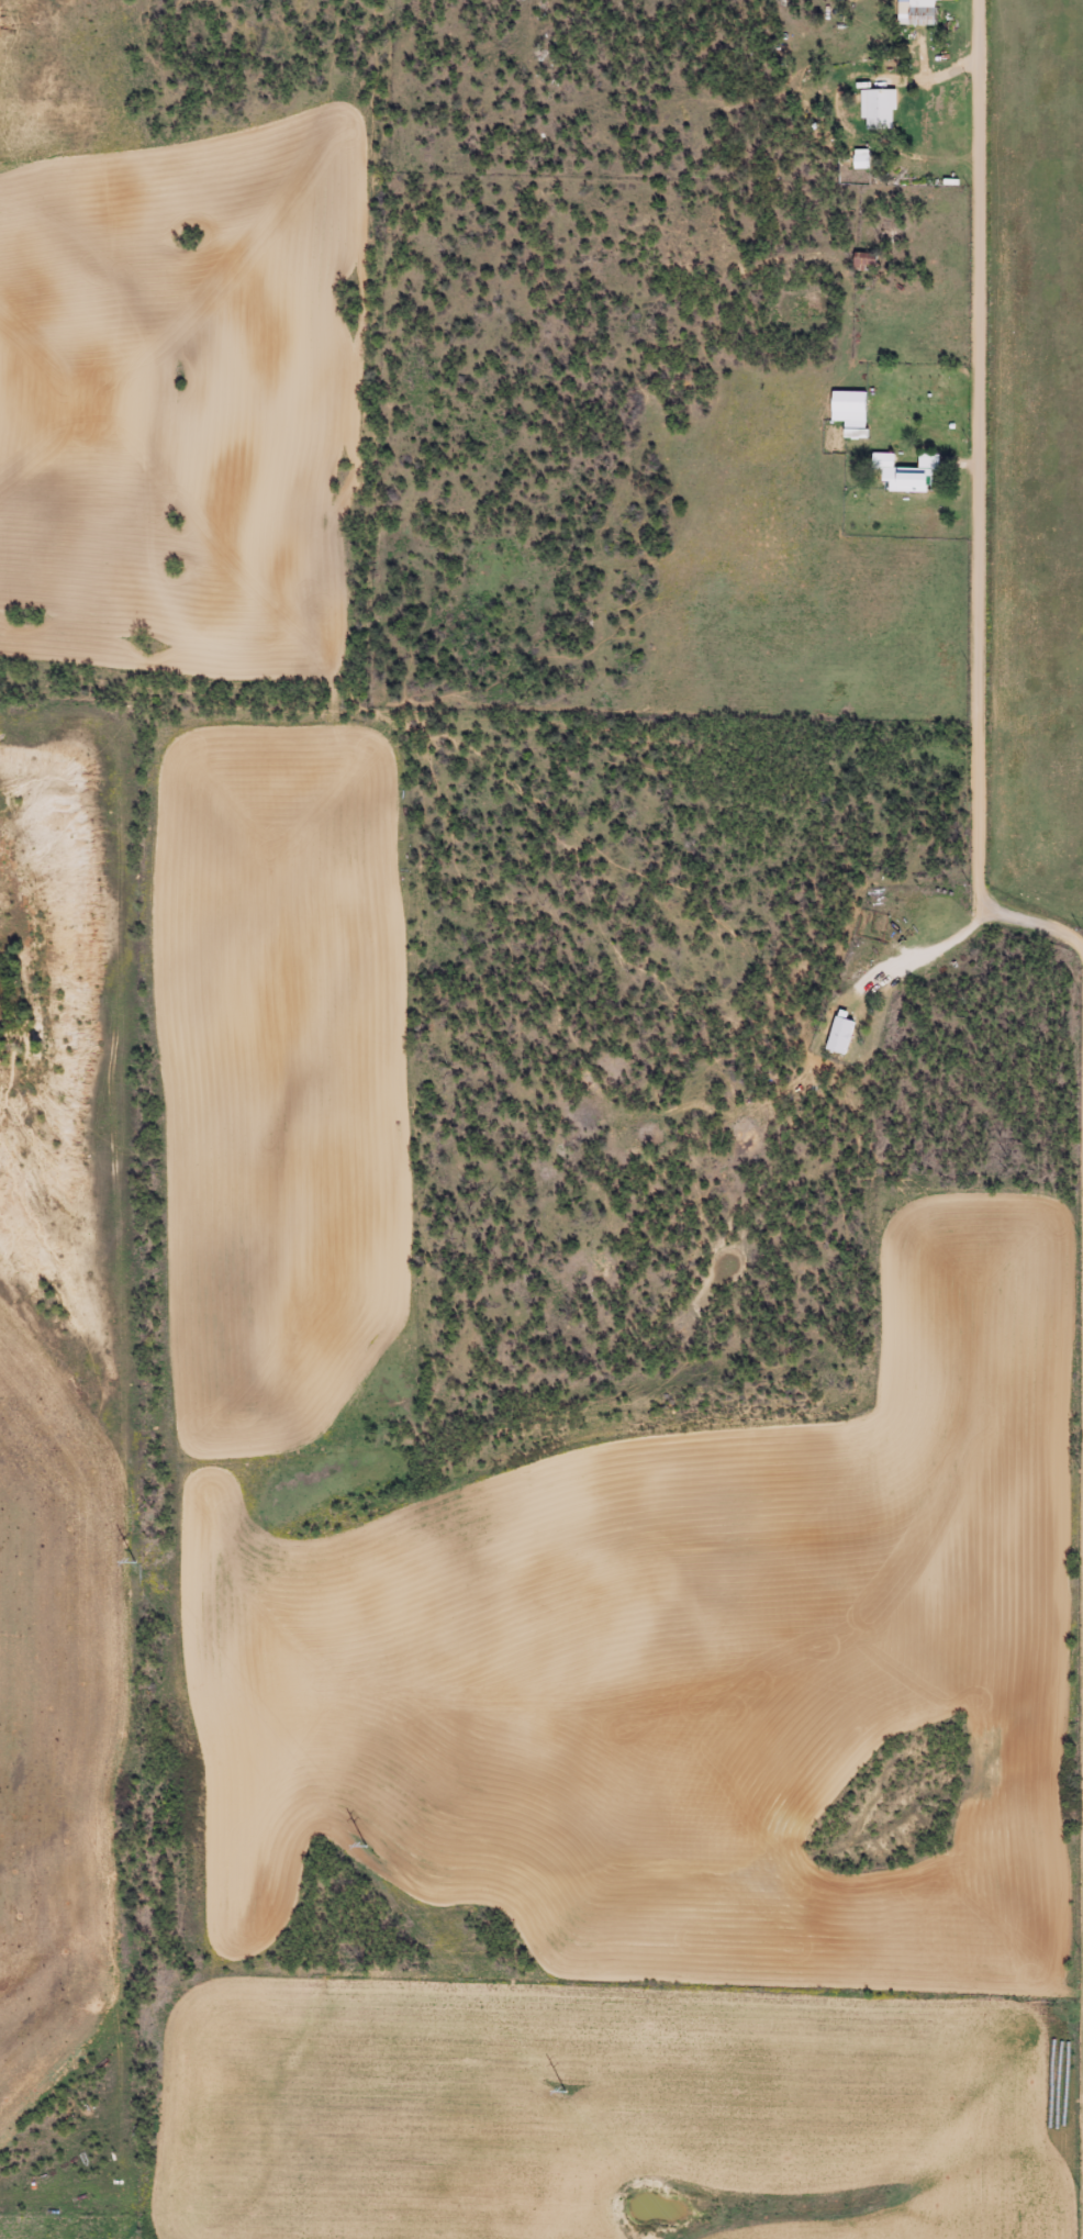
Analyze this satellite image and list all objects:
building: (913, 12)
building: (874, 108)
building: (858, 158)
building: (860, 260)
building: (845, 405)
building: (849, 432)
building: (903, 471)
road: (983, 504)
building: (836, 1033)

